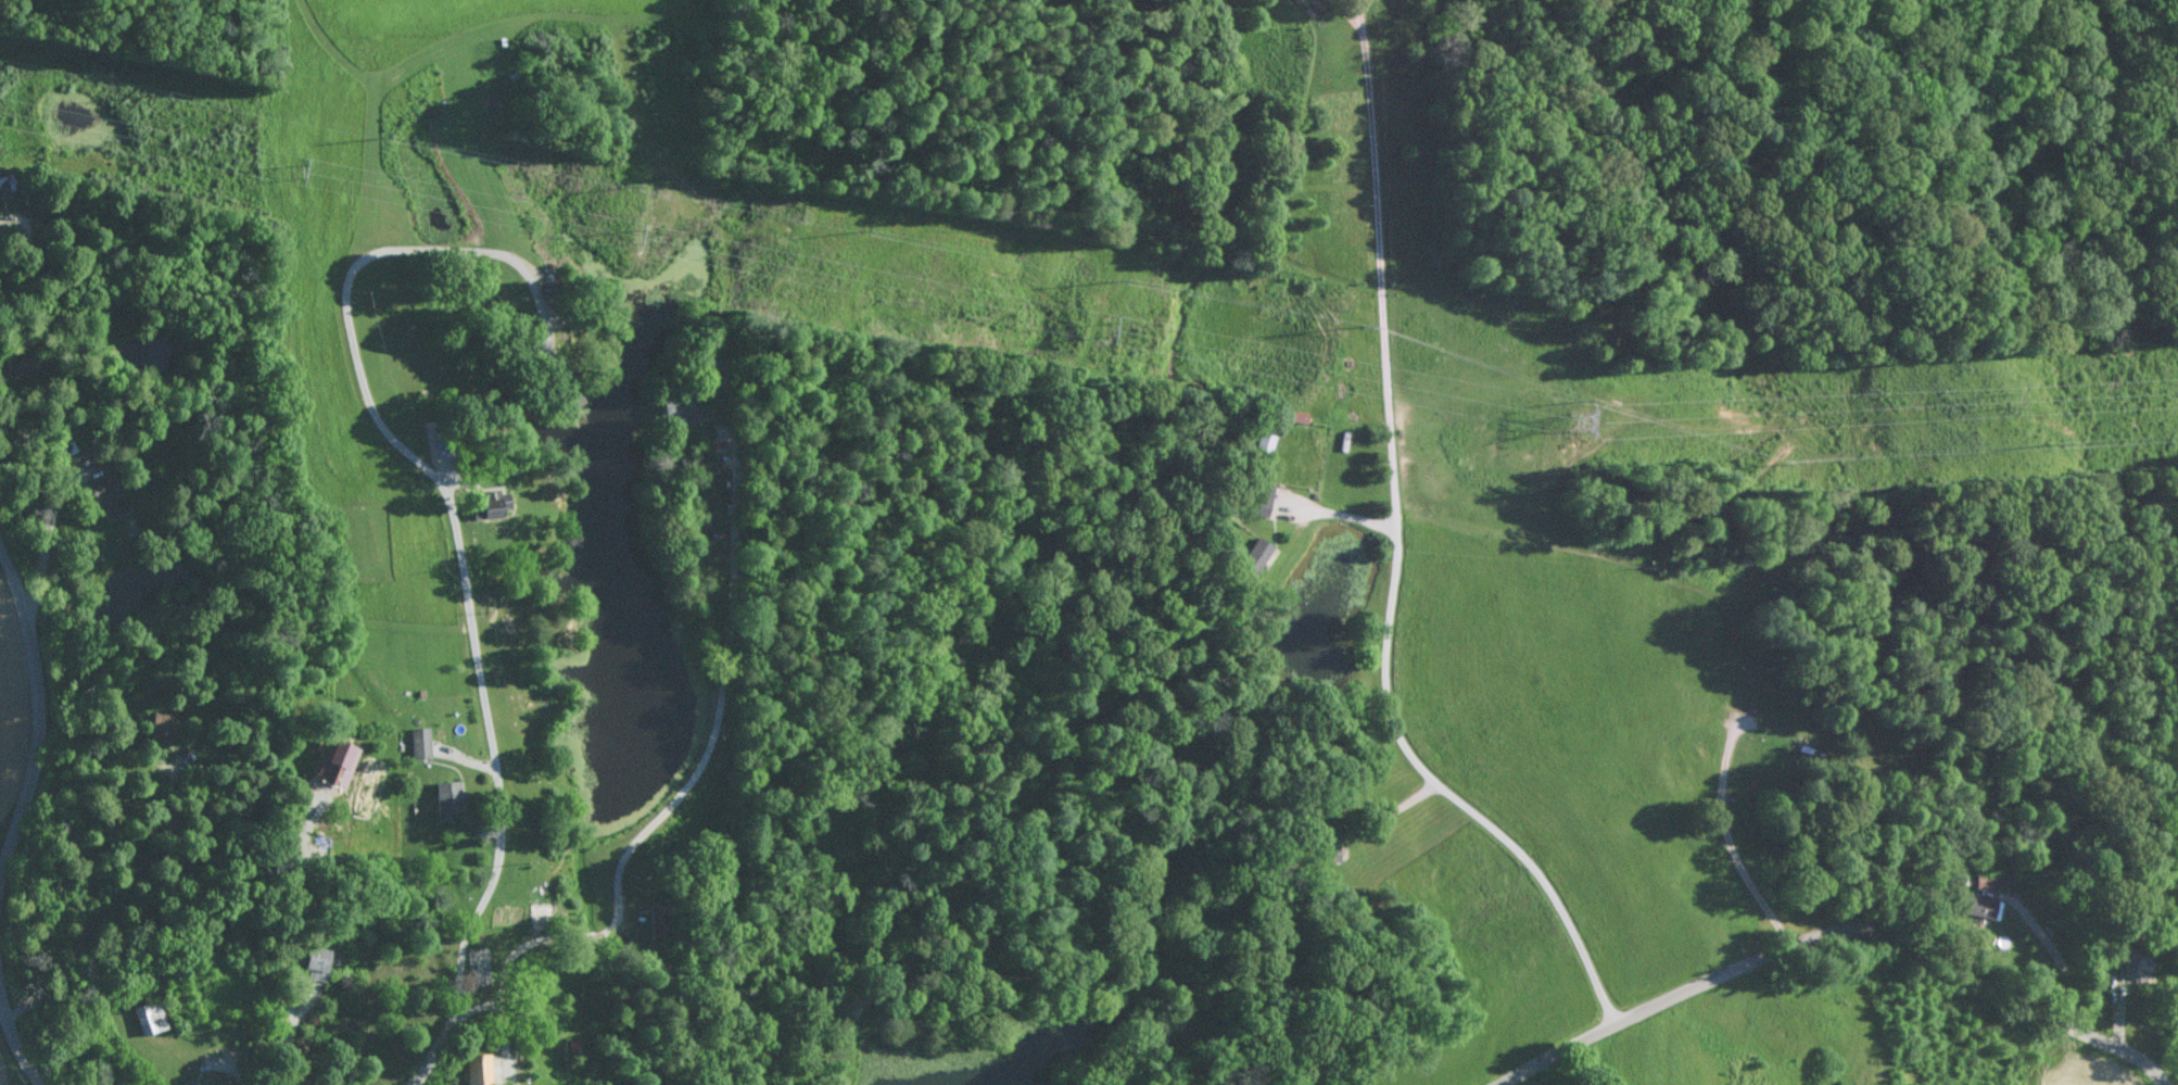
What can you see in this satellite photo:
power tower: (392, 134)
power tower: (308, 164)
power tower: (641, 181)
building: (7, 184)
power tower: (872, 227)
power tower: (642, 231)
power tower: (1126, 276)
power tower: (1373, 319)
power tower: (1115, 324)
power tower: (1595, 395)
power tower: (2014, 399)
building: (680, 407)
power tower: (1579, 412)
building: (1292, 416)
power tower: (2060, 440)
power tower: (1785, 461)
building: (109, 494)
building: (1257, 496)
road: (466, 526)
road: (734, 534)
road: (1396, 554)
building: (1254, 555)
road: (42, 712)
building: (166, 726)
building: (421, 741)
building: (451, 798)
road: (625, 869)
building: (1988, 879)
road: (109, 898)
building: (1981, 906)
building: (657, 922)
road: (1834, 933)
building: (319, 962)
building: (150, 1017)
road: (12, 1031)
road: (288, 1031)
road: (233, 1064)
building: (481, 1069)
building: (204, 1084)

